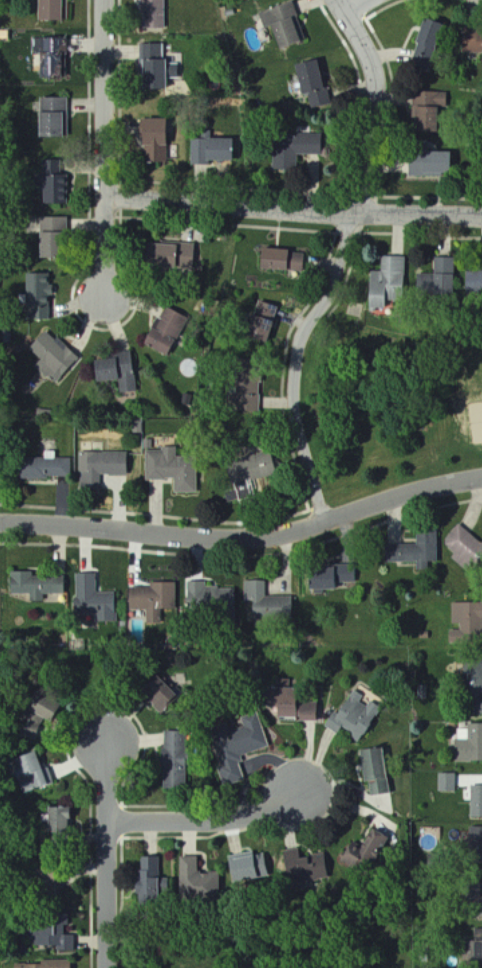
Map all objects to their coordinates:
road: (351, 5)
building: (52, 11)
building: (152, 14)
building: (283, 26)
building: (471, 44)
building: (425, 49)
building: (51, 58)
building: (155, 68)
building: (308, 78)
building: (319, 100)
building: (427, 109)
building: (50, 117)
building: (152, 142)
road: (107, 149)
building: (293, 151)
building: (52, 188)
road: (294, 210)
building: (50, 236)
building: (170, 255)
building: (281, 259)
road: (339, 262)
building: (438, 278)
building: (385, 279)
building: (473, 281)
building: (38, 296)
building: (391, 297)
building: (262, 321)
building: (166, 332)
building: (52, 354)
building: (116, 371)
building: (247, 393)
building: (101, 467)
building: (251, 467)
building: (45, 468)
building: (172, 469)
road: (244, 538)
building: (464, 545)
building: (415, 551)
building: (329, 578)
building: (35, 585)
building: (93, 599)
building: (212, 599)
building: (153, 600)
building: (265, 603)
building: (468, 620)
building: (472, 677)
building: (156, 693)
building: (40, 706)
building: (291, 706)
building: (475, 709)
building: (353, 716)
building: (469, 744)
building: (238, 747)
building: (173, 760)
building: (373, 771)
building: (35, 772)
building: (446, 782)
building: (475, 801)
road: (205, 818)
building: (58, 819)
building: (475, 845)
building: (366, 849)
road: (107, 854)
building: (246, 868)
building: (150, 880)
building: (197, 881)
building: (48, 890)
building: (477, 907)
building: (55, 935)
building: (47, 965)

